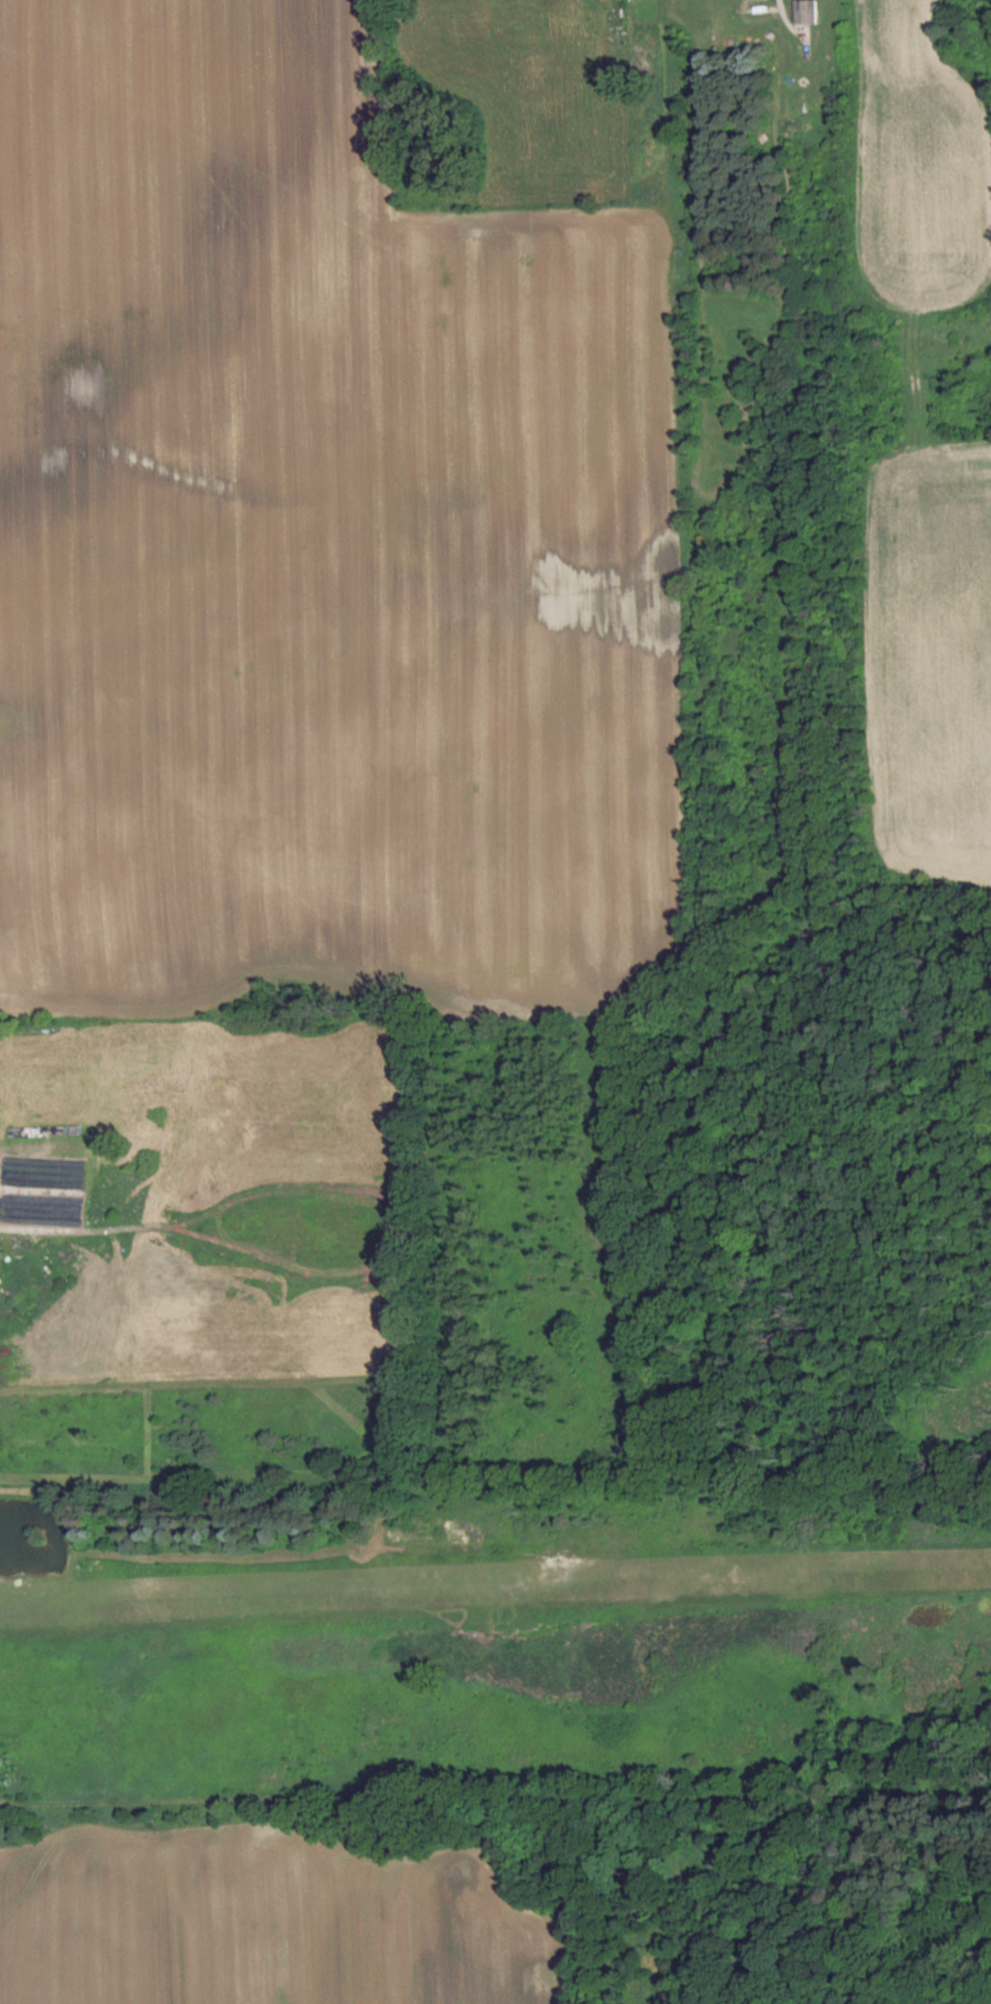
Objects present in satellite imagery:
building: (807, 10)

